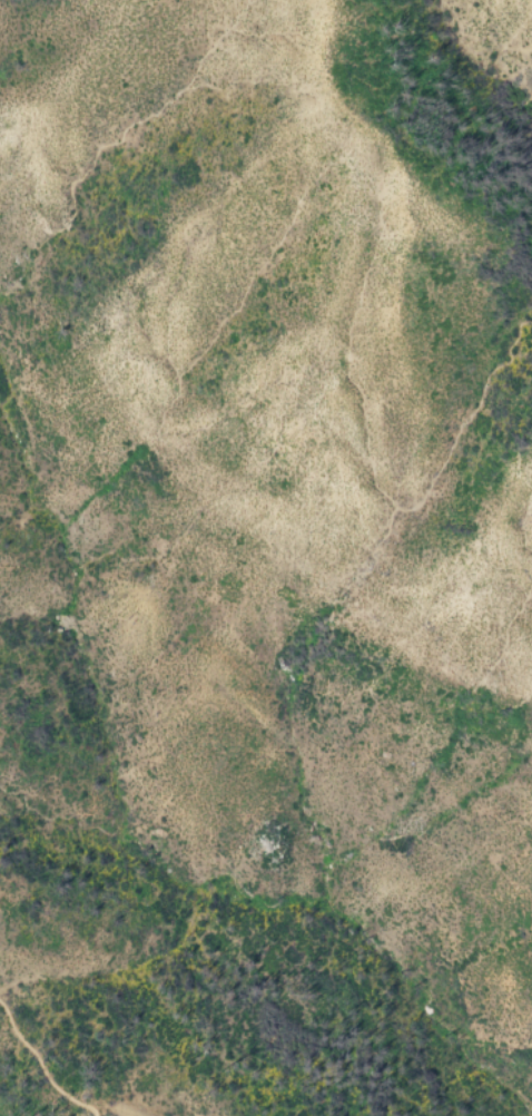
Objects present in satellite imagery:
road: (52, 1081)
road: (90, 1112)

